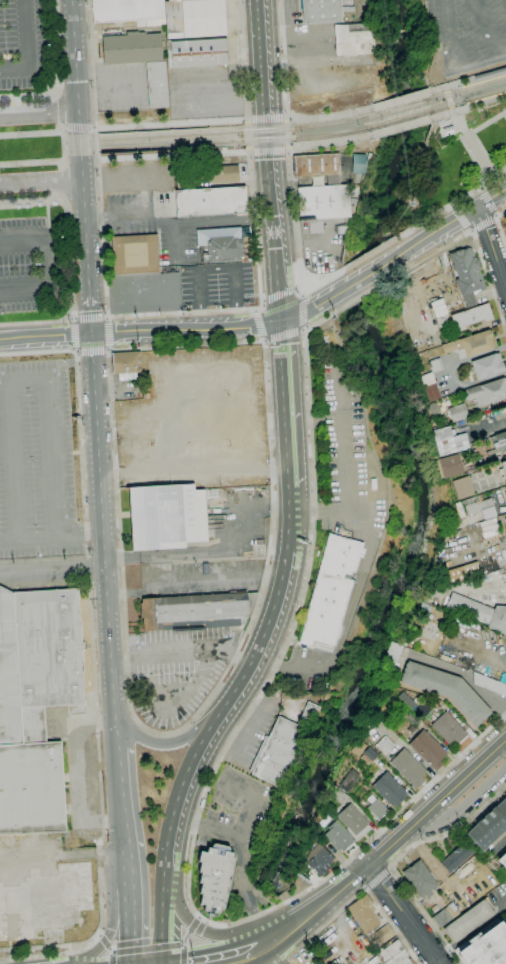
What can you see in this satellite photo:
building: (126, 10)
building: (324, 10)
building: (194, 18)
road: (486, 26)
road: (449, 33)
parking lot: (468, 33)
building: (354, 39)
parking lot: (19, 44)
road: (56, 48)
building: (132, 48)
road: (25, 50)
building: (197, 53)
road: (264, 58)
road: (282, 58)
road: (243, 59)
building: (490, 75)
railway: (459, 81)
building: (190, 84)
building: (157, 85)
parking lot: (122, 88)
road: (444, 88)
road: (77, 89)
railway: (468, 90)
building: (191, 96)
road: (30, 97)
road: (60, 97)
road: (449, 99)
road: (398, 101)
railway: (469, 101)
railway: (466, 107)
building: (192, 108)
railway: (400, 108)
road: (60, 111)
road: (449, 113)
road: (39, 116)
road: (265, 117)
road: (284, 117)
road: (248, 118)
road: (286, 118)
road: (327, 118)
railway: (402, 118)
road: (247, 119)
road: (172, 124)
road: (401, 126)
road: (62, 127)
railway: (309, 127)
road: (64, 128)
road: (79, 128)
road: (95, 129)
building: (449, 130)
road: (31, 131)
road: (287, 132)
road: (248, 133)
railway: (172, 135)
railway: (310, 136)
road: (330, 143)
road: (63, 145)
railway: (173, 145)
road: (288, 148)
road: (248, 150)
road: (287, 150)
road: (268, 151)
road: (251, 152)
road: (173, 155)
road: (98, 160)
road: (32, 163)
building: (359, 164)
road: (64, 165)
building: (318, 166)
building: (221, 173)
road: (40, 181)
building: (183, 181)
road: (65, 183)
road: (480, 188)
road: (490, 198)
road: (67, 199)
road: (33, 202)
building: (211, 202)
road: (487, 202)
power tower: (413, 204)
road: (451, 204)
road: (453, 205)
building: (325, 207)
road: (495, 215)
road: (462, 218)
road: (275, 219)
road: (175, 222)
road: (482, 222)
road: (296, 223)
parking lot: (154, 224)
road: (499, 225)
road: (254, 227)
road: (471, 230)
road: (433, 232)
road: (474, 236)
road: (174, 241)
building: (223, 243)
road: (491, 247)
road: (370, 252)
building: (135, 254)
road: (86, 257)
parking lot: (31, 268)
road: (216, 268)
road: (48, 271)
road: (367, 274)
building: (467, 275)
road: (324, 279)
parking lot: (217, 285)
road: (296, 288)
road: (280, 294)
road: (302, 294)
road: (363, 294)
road: (71, 297)
road: (263, 300)
road: (312, 307)
road: (255, 310)
road: (184, 312)
road: (302, 313)
building: (472, 316)
power tower: (332, 318)
road: (74, 319)
road: (90, 319)
road: (72, 321)
traffic signals: (282, 321)
building: (442, 321)
road: (260, 326)
road: (187, 328)
road: (302, 330)
road: (108, 333)
road: (283, 333)
road: (73, 335)
traffic signals: (92, 335)
road: (45, 337)
road: (265, 340)
building: (471, 345)
power tower: (138, 346)
road: (109, 348)
road: (74, 349)
road: (77, 351)
road: (91, 351)
road: (106, 351)
road: (71, 363)
building: (126, 365)
building: (436, 365)
building: (488, 366)
road: (57, 368)
road: (29, 378)
road: (4, 379)
building: (427, 379)
building: (432, 392)
building: (487, 392)
building: (457, 412)
road: (288, 415)
road: (489, 429)
road: (342, 440)
building: (447, 440)
building: (499, 442)
parking lot: (345, 450)
road: (68, 452)
parking lot: (36, 463)
building: (449, 466)
building: (502, 470)
building: (505, 486)
building: (462, 487)
building: (504, 493)
building: (482, 508)
road: (320, 511)
building: (505, 516)
building: (167, 517)
parking lot: (244, 520)
road: (103, 525)
road: (91, 534)
road: (48, 537)
road: (193, 552)
road: (52, 570)
building: (460, 571)
parking lot: (195, 577)
building: (330, 591)
building: (493, 599)
building: (469, 608)
building: (195, 611)
building: (498, 619)
road: (345, 622)
road: (266, 635)
building: (412, 636)
road: (181, 647)
road: (127, 650)
building: (391, 656)
road: (234, 657)
road: (94, 659)
road: (227, 671)
parking lot: (175, 673)
road: (463, 677)
building: (489, 684)
building: (446, 690)
road: (259, 693)
parking lot: (284, 697)
building: (406, 701)
building: (35, 704)
road: (171, 707)
building: (410, 717)
building: (449, 729)
road: (115, 733)
road: (180, 741)
building: (384, 745)
building: (282, 747)
building: (427, 749)
building: (368, 756)
building: (408, 768)
building: (349, 780)
road: (427, 785)
building: (389, 790)
road: (121, 798)
road: (252, 799)
road: (436, 803)
building: (377, 809)
road: (456, 815)
building: (353, 822)
building: (489, 826)
road: (210, 829)
parking lot: (234, 832)
building: (338, 837)
road: (501, 850)
road: (173, 851)
building: (456, 857)
building: (318, 859)
road: (399, 859)
building: (503, 860)
road: (129, 868)
road: (389, 868)
building: (214, 877)
road: (377, 879)
building: (420, 879)
road: (245, 881)
road: (363, 886)
road: (358, 890)
road: (309, 907)
road: (403, 914)
building: (364, 915)
building: (445, 915)
road: (198, 918)
road: (316, 918)
building: (468, 921)
building: (9, 924)
road: (132, 926)
road: (189, 931)
road: (217, 933)
road: (111, 934)
building: (384, 934)
road: (99, 937)
road: (107, 945)
building: (485, 946)
road: (149, 948)
road: (184, 954)
road: (208, 954)
building: (396, 954)
building: (382, 955)
road: (112, 958)
traffic signals: (167, 961)
road: (154, 962)
road: (166, 962)

